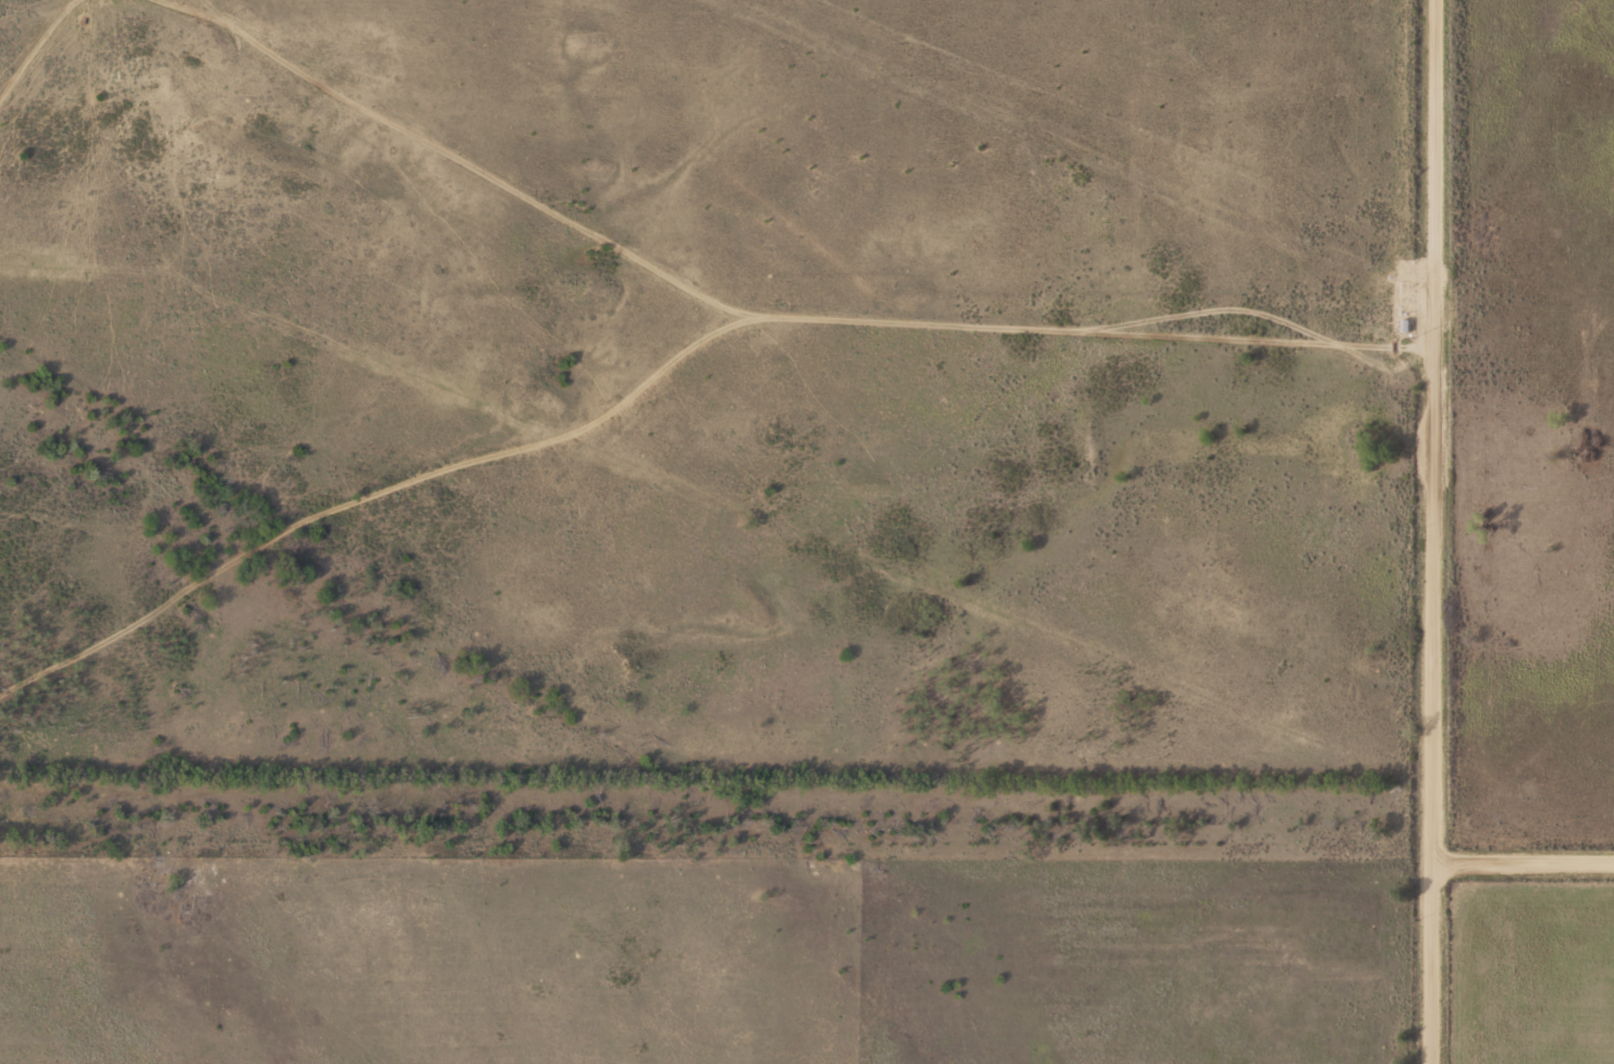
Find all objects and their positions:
road: (1439, 430)
road: (1526, 860)
road: (1438, 963)

